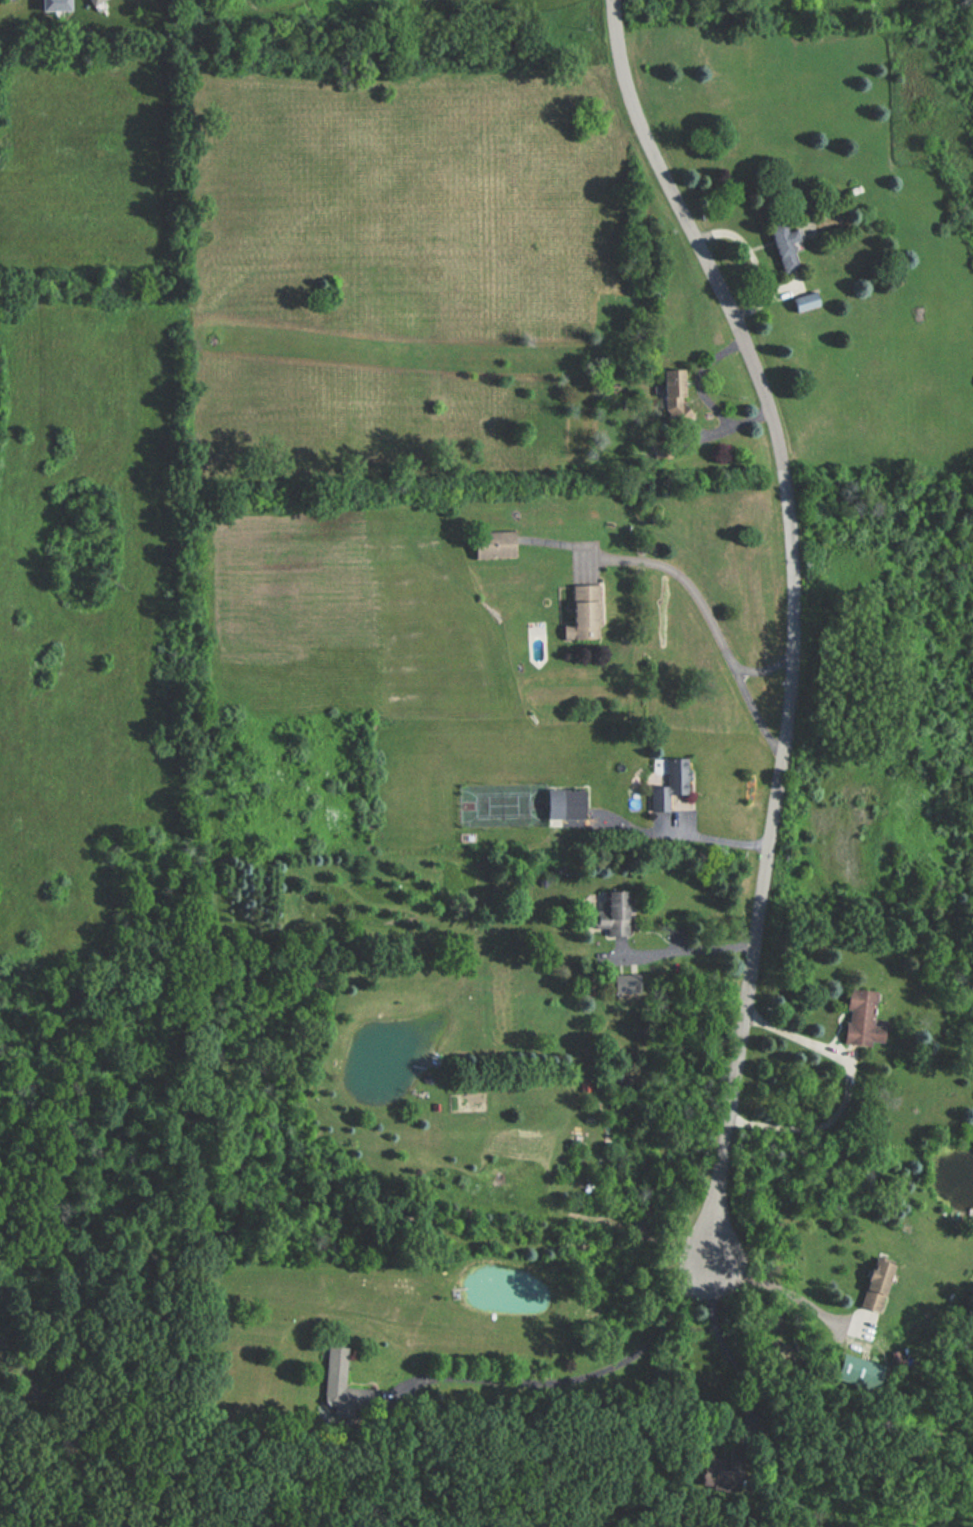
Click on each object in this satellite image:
building: (90, 2)
building: (779, 241)
building: (669, 382)
building: (680, 414)
building: (490, 544)
building: (580, 613)
road: (798, 613)
road: (715, 626)
road: (764, 672)
building: (664, 783)
building: (561, 803)
road: (714, 840)
building: (611, 914)
road: (688, 952)
building: (624, 985)
building: (858, 1019)
road: (847, 1088)
building: (873, 1283)
road: (777, 1287)
road: (721, 1330)
road: (579, 1379)
building: (334, 1386)

